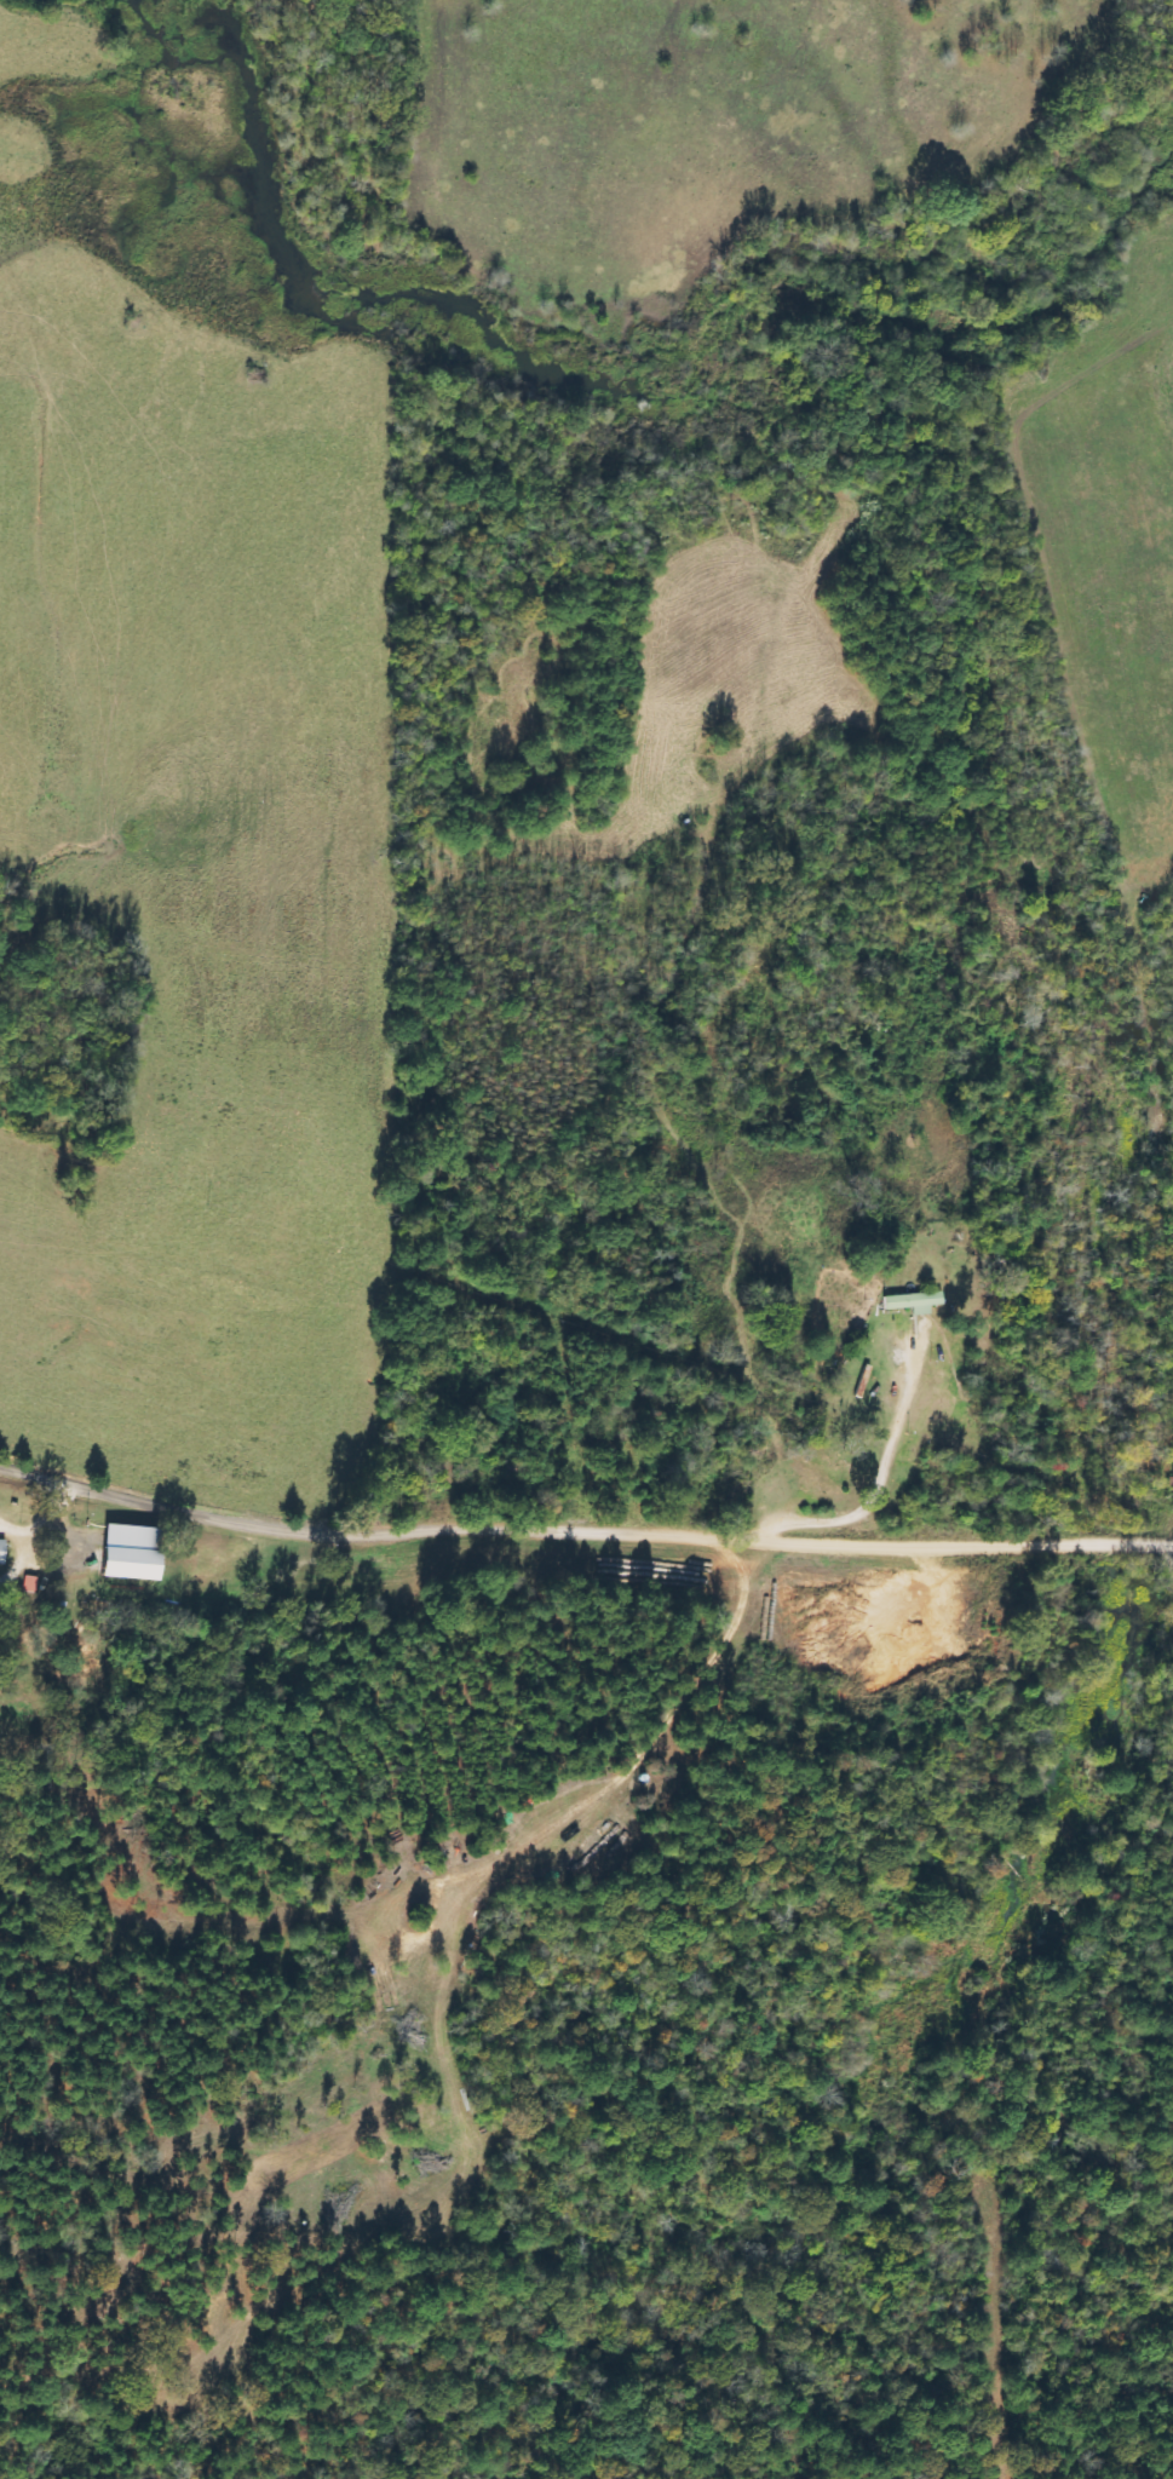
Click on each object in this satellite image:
building: (913, 1302)
road: (582, 1535)
building: (1, 1552)
building: (126, 1553)
road: (1156, 1565)
building: (29, 1584)

